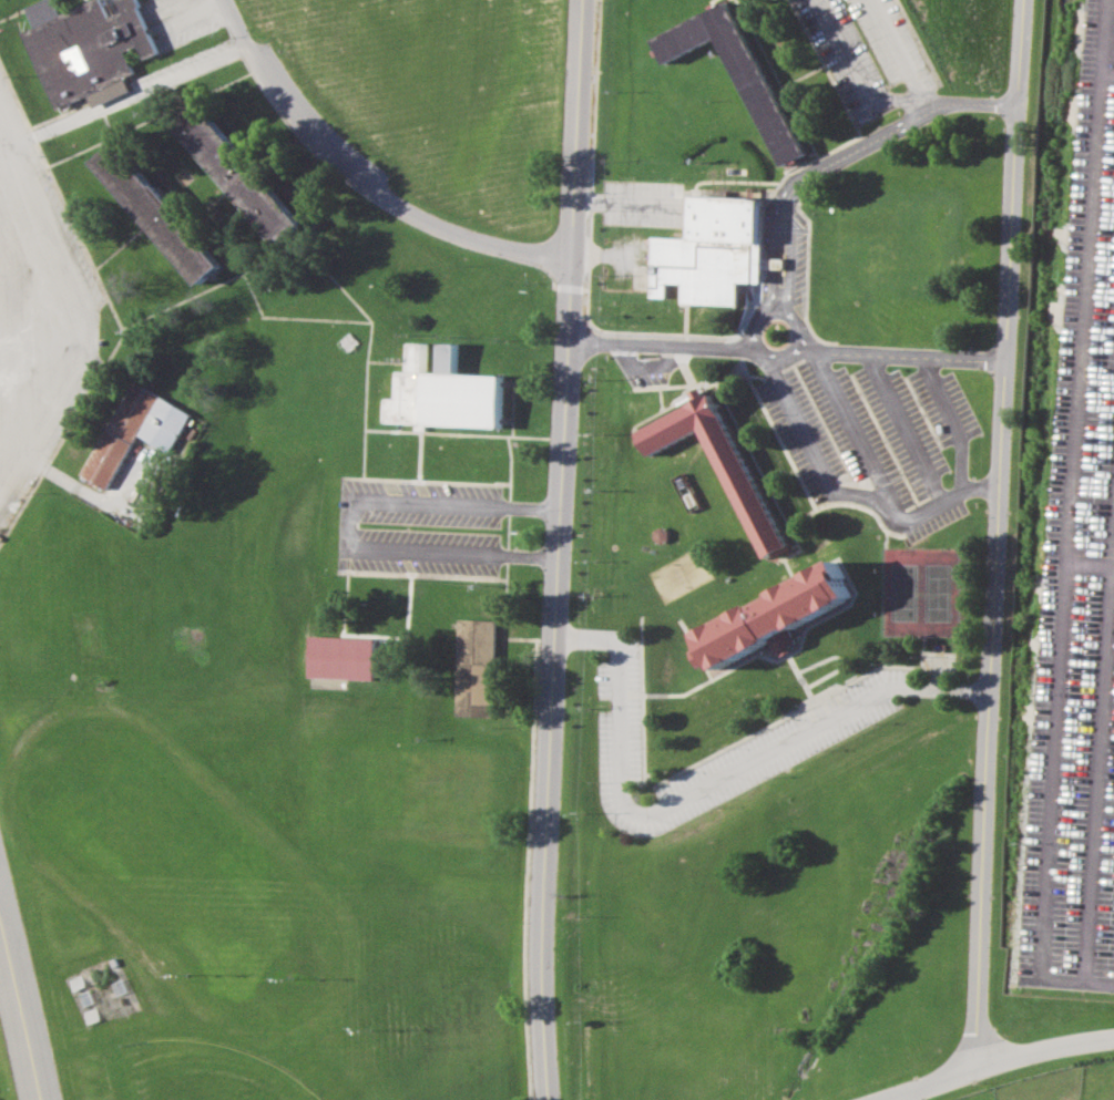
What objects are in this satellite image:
road: (82, 1)
road: (711, 2)
road: (221, 20)
parking lot: (175, 21)
road: (917, 42)
road: (896, 43)
building: (82, 49)
building: (734, 69)
road: (1110, 74)
road: (800, 75)
road: (776, 76)
road: (855, 76)
road: (595, 94)
road: (173, 95)
road: (924, 96)
road: (122, 100)
road: (16, 103)
road: (847, 115)
road: (123, 128)
road: (243, 140)
road: (96, 144)
road: (275, 153)
road: (826, 164)
building: (236, 168)
road: (356, 179)
road: (366, 198)
road: (205, 203)
parking lot: (636, 203)
building: (152, 205)
road: (117, 245)
building: (707, 248)
road: (232, 261)
road: (804, 268)
parking lot: (781, 271)
road: (212, 277)
road: (219, 282)
road: (568, 288)
parking lot: (37, 312)
road: (634, 332)
building: (347, 340)
road: (114, 341)
road: (367, 343)
road: (785, 348)
road: (386, 361)
road: (736, 361)
road: (683, 369)
road: (749, 376)
road: (657, 383)
building: (442, 391)
road: (656, 398)
road: (510, 403)
road: (950, 419)
road: (505, 420)
road: (733, 424)
road: (766, 424)
road: (902, 425)
building: (132, 430)
road: (453, 433)
road: (855, 433)
road: (941, 446)
road: (418, 455)
road: (508, 459)
building: (716, 461)
building: (161, 479)
road: (431, 480)
road: (869, 485)
road: (838, 494)
road: (95, 497)
road: (917, 503)
road: (861, 507)
road: (349, 522)
road: (1070, 522)
parking lot: (395, 531)
road: (505, 531)
road: (555, 531)
road: (997, 533)
road: (835, 553)
park: (675, 573)
road: (419, 575)
parking lot: (1073, 582)
park: (919, 590)
road: (341, 603)
building: (770, 611)
road: (689, 648)
building: (338, 656)
road: (837, 658)
building: (473, 666)
road: (500, 670)
road: (720, 670)
road: (638, 698)
road: (787, 711)
parking lot: (811, 727)
road: (697, 788)
road: (527, 814)
park: (181, 873)
road: (19, 1018)
road: (991, 1061)
park: (202, 1073)
park: (3, 1081)
road: (543, 1081)

